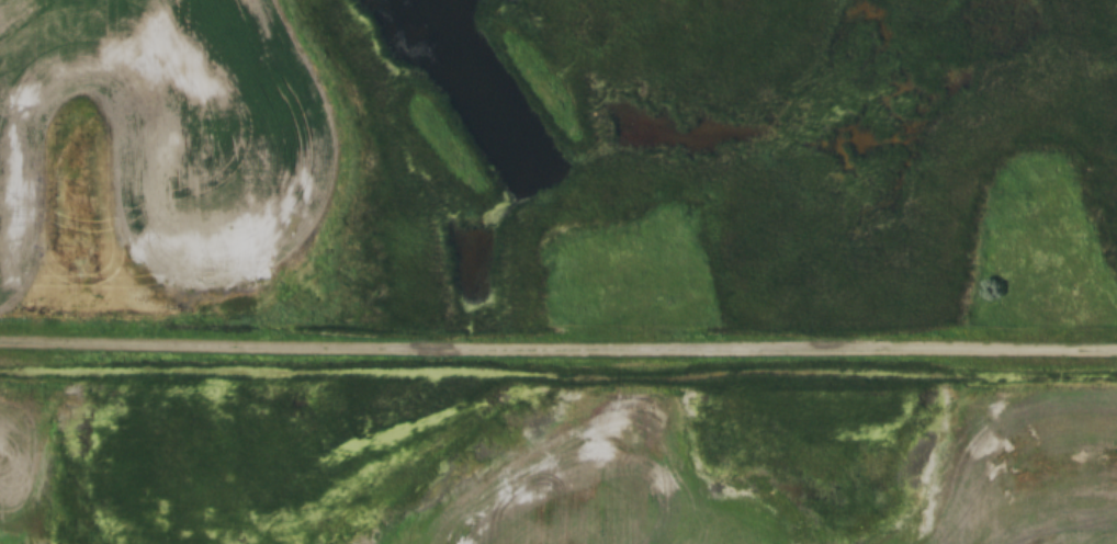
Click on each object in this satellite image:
road: (558, 350)

